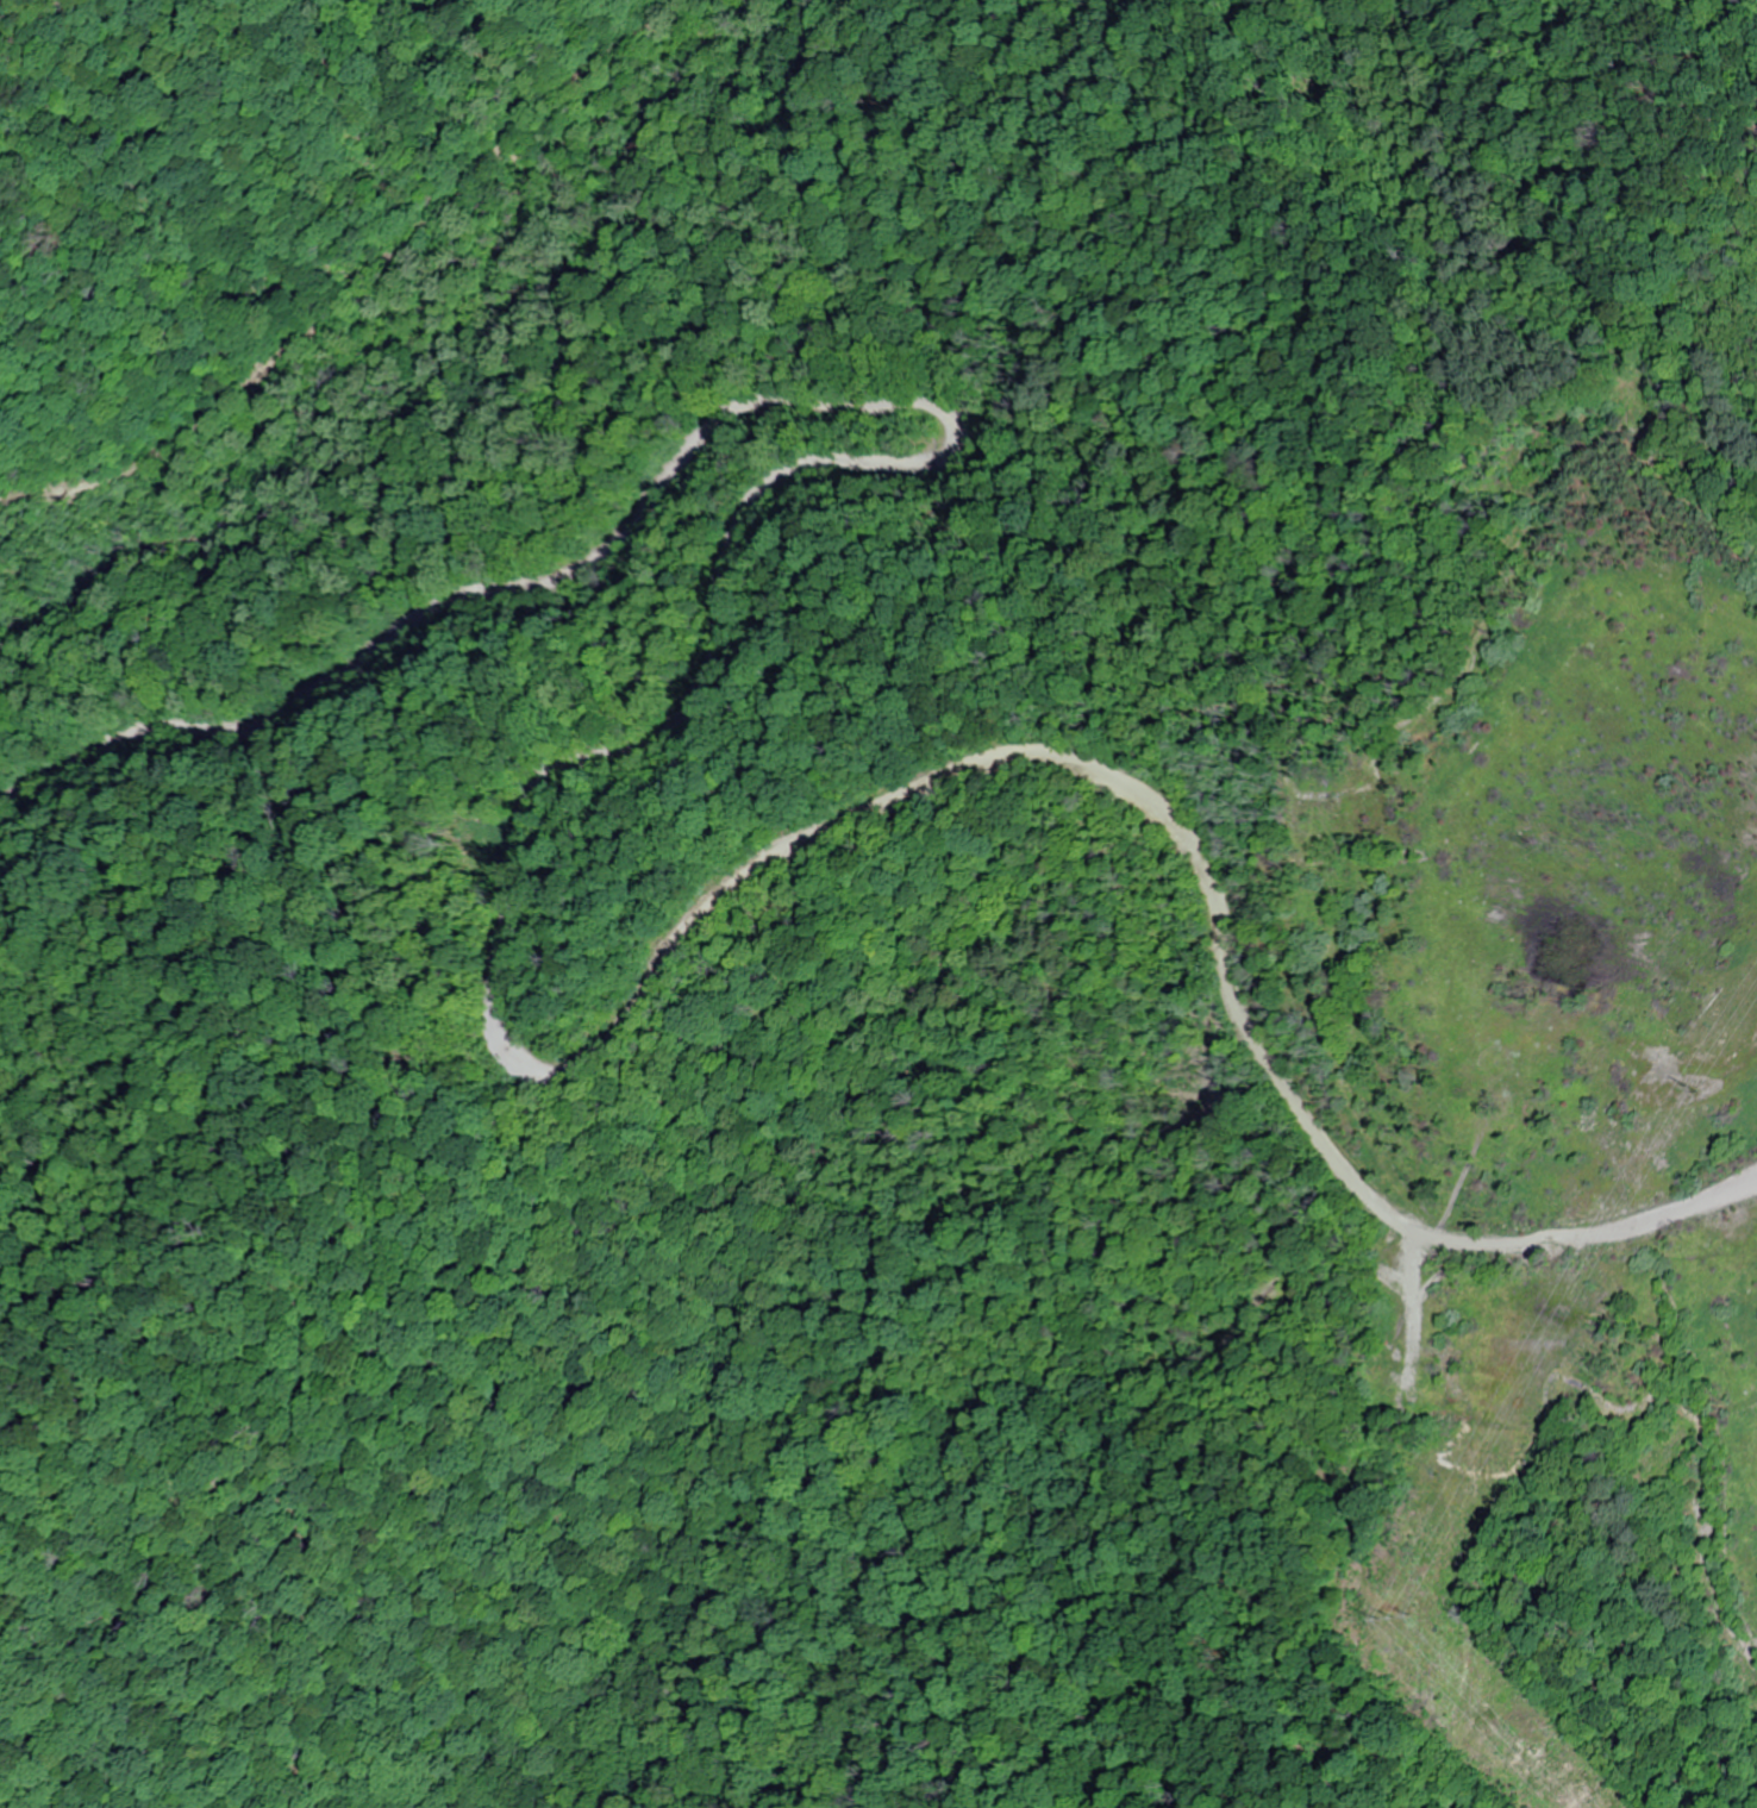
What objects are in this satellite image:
road: (507, 902)
power tower: (1696, 1090)
power tower: (1401, 1613)

